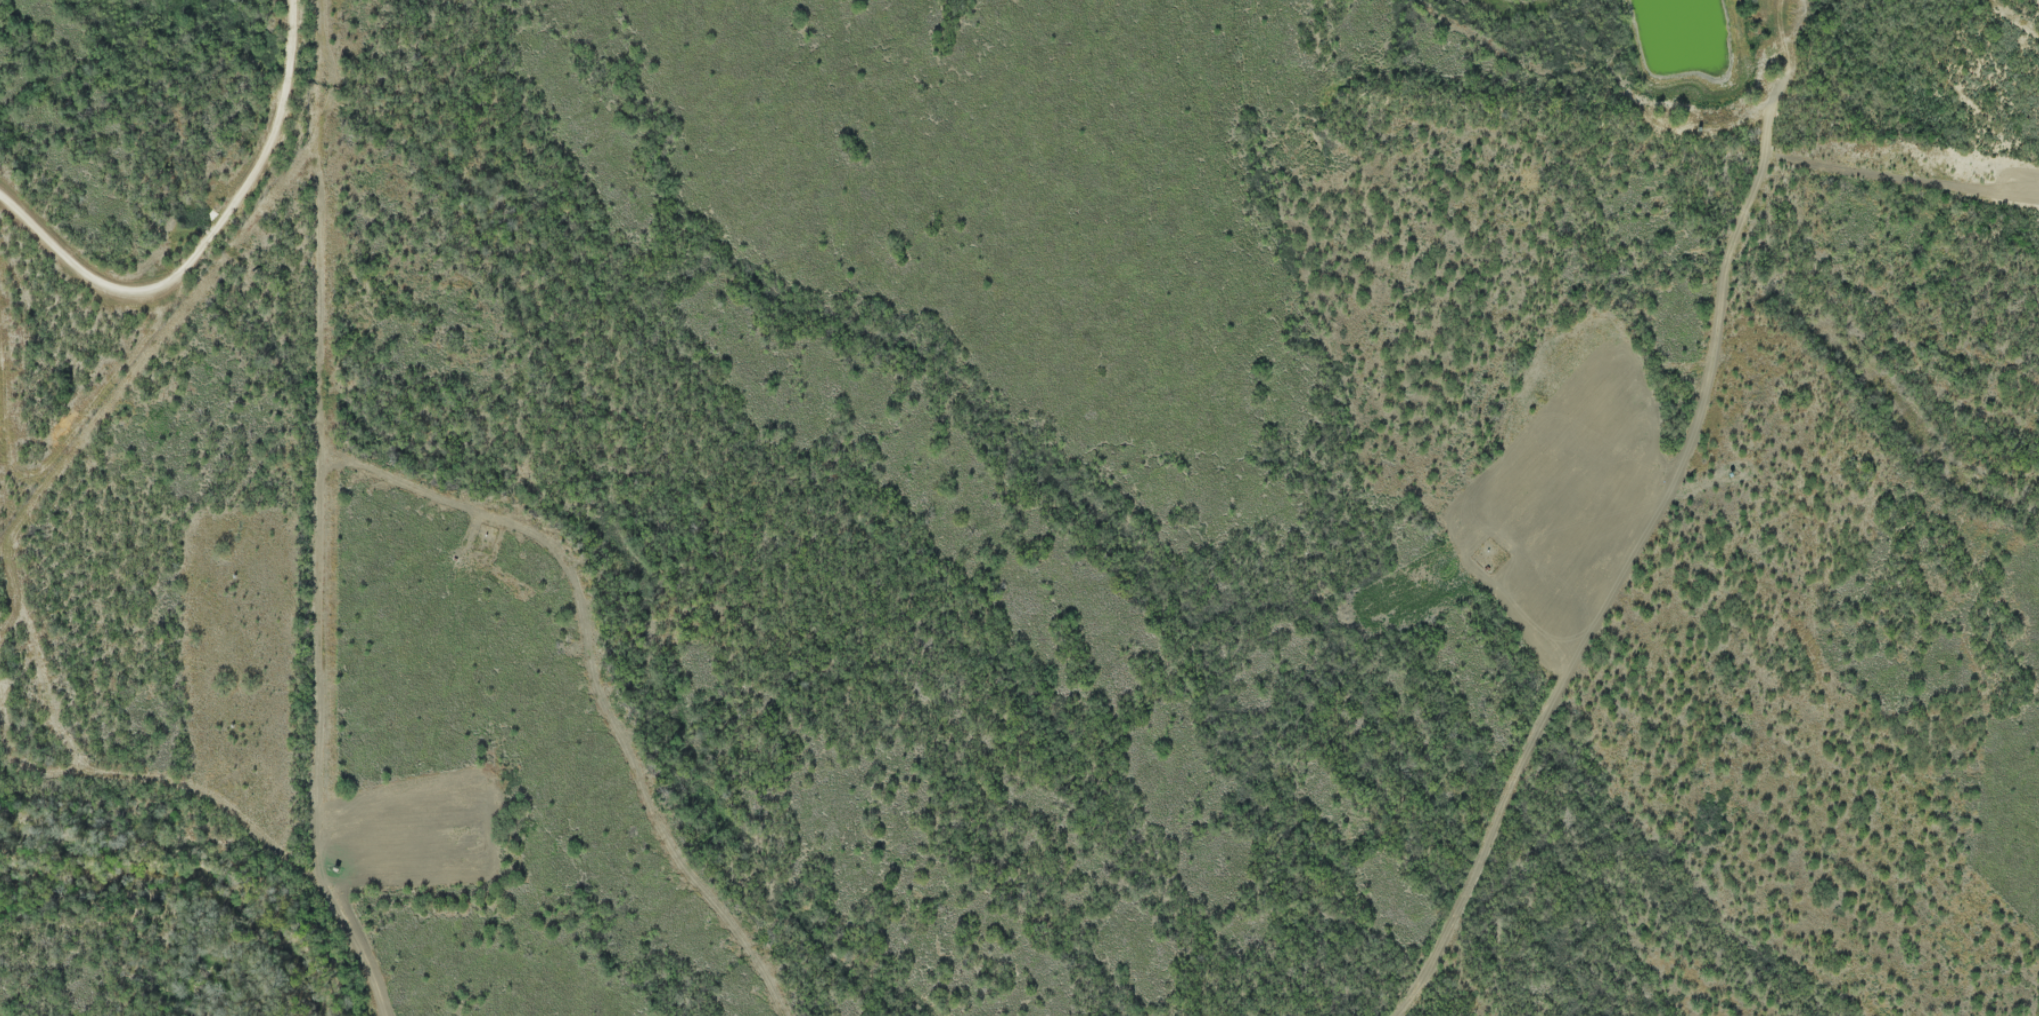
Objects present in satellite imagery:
road: (206, 238)
river: (192, 881)

